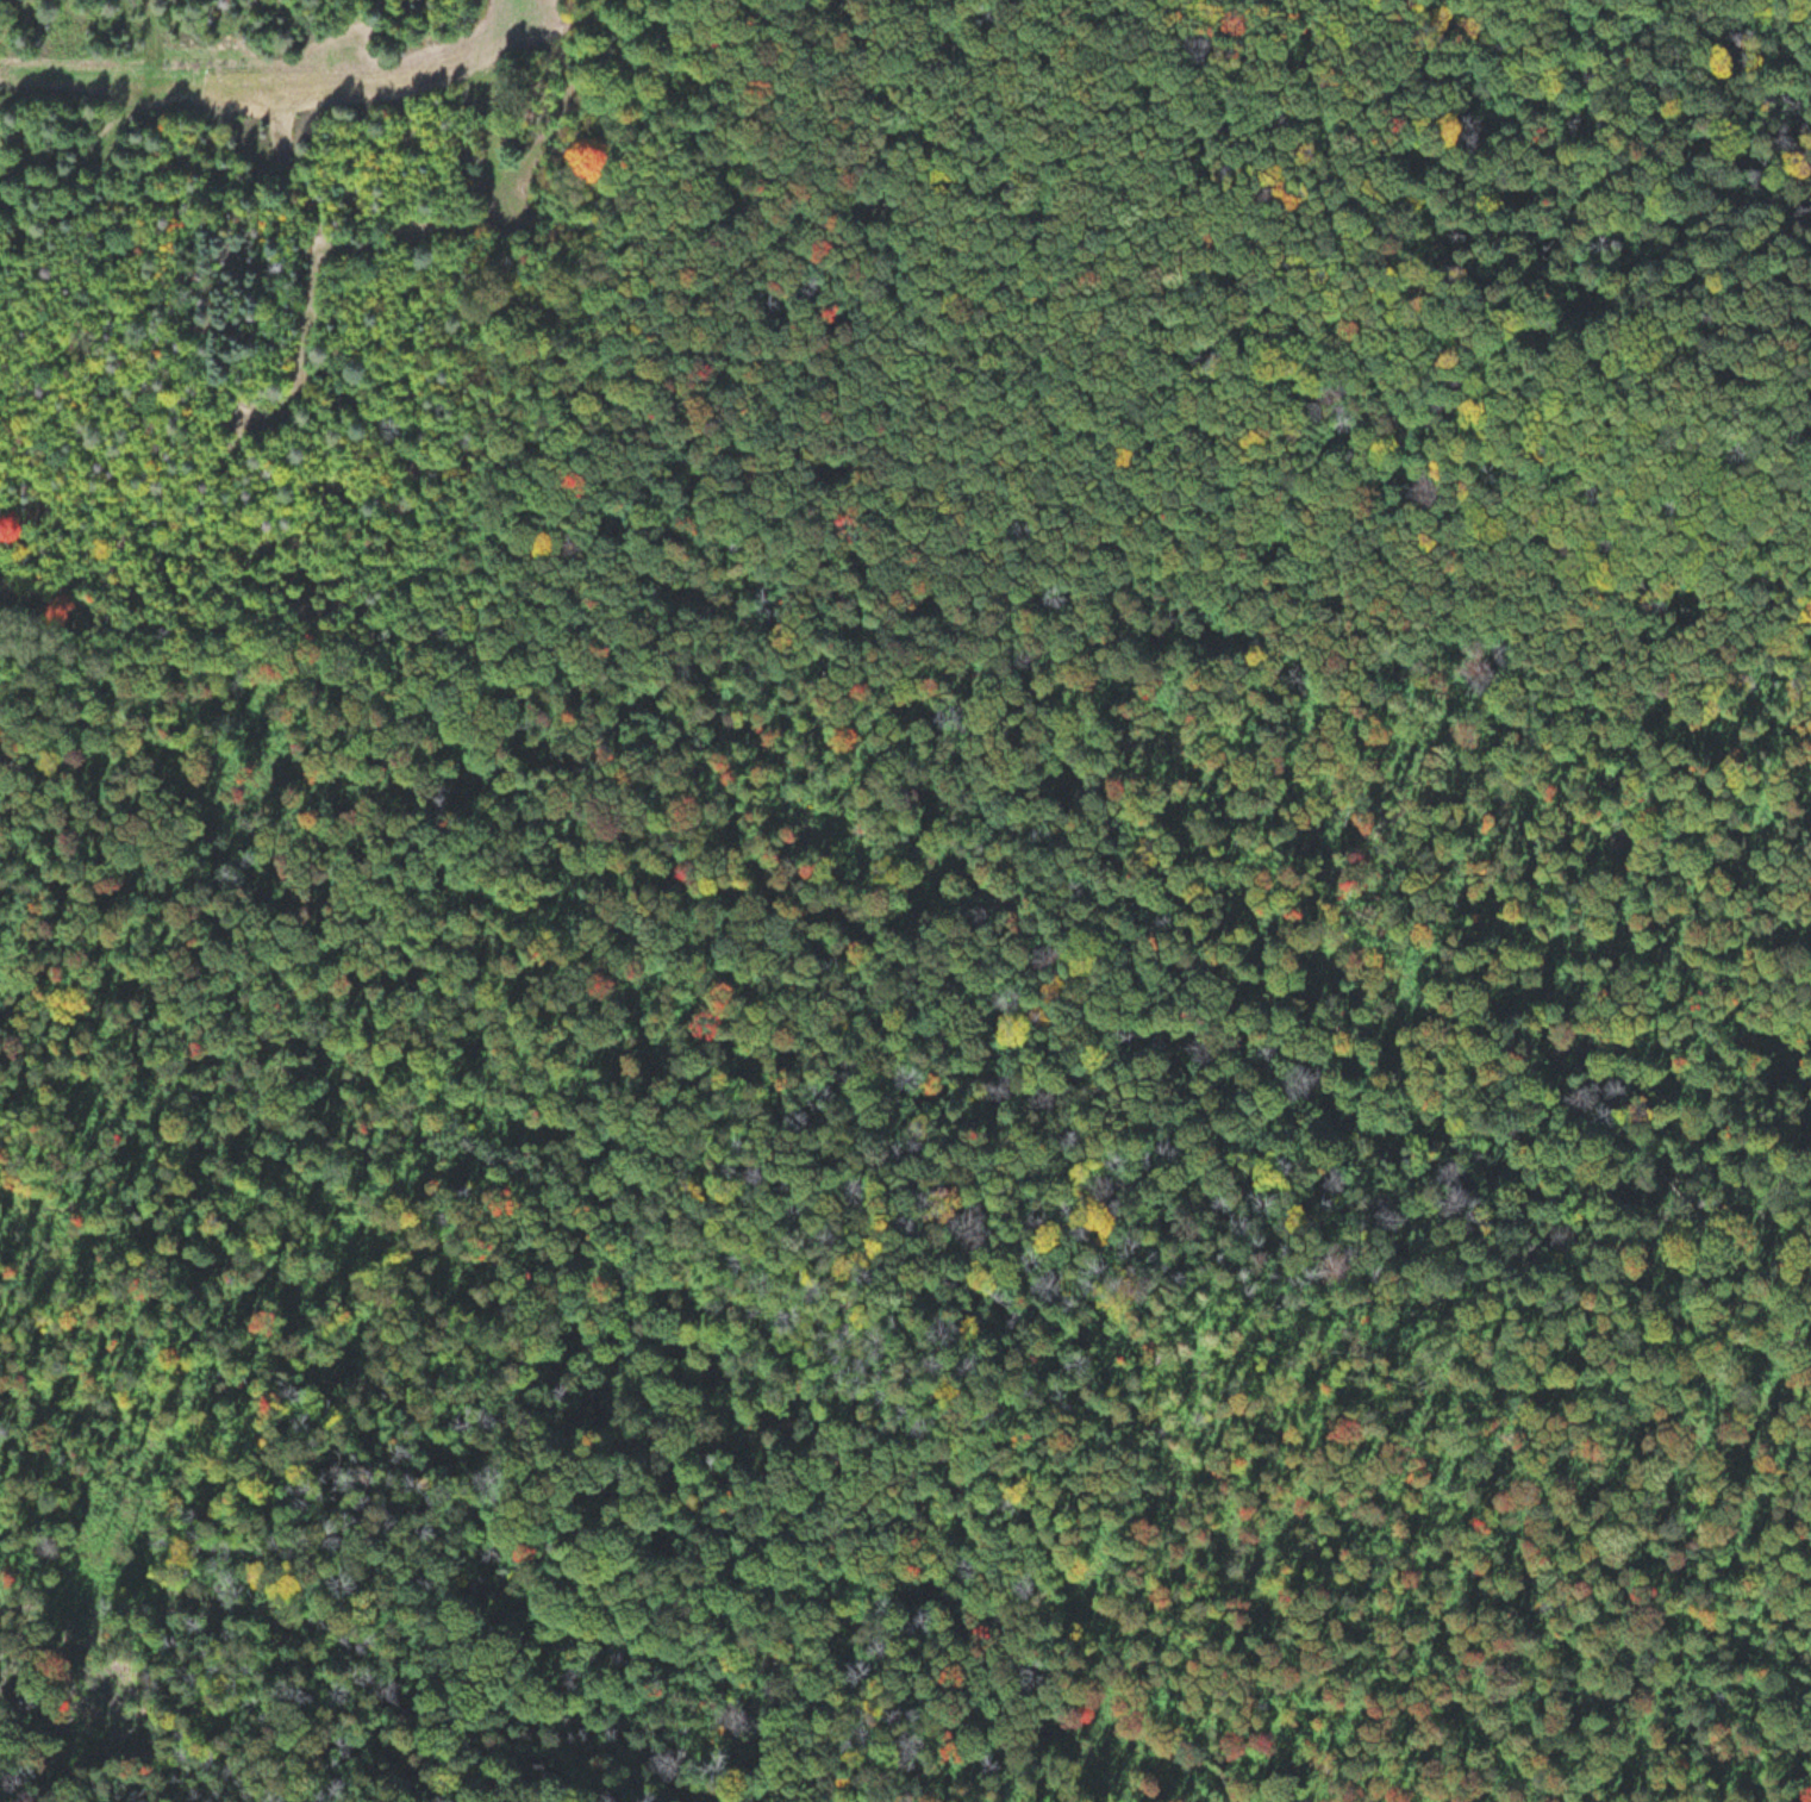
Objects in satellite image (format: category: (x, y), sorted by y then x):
road: (633, 853)

